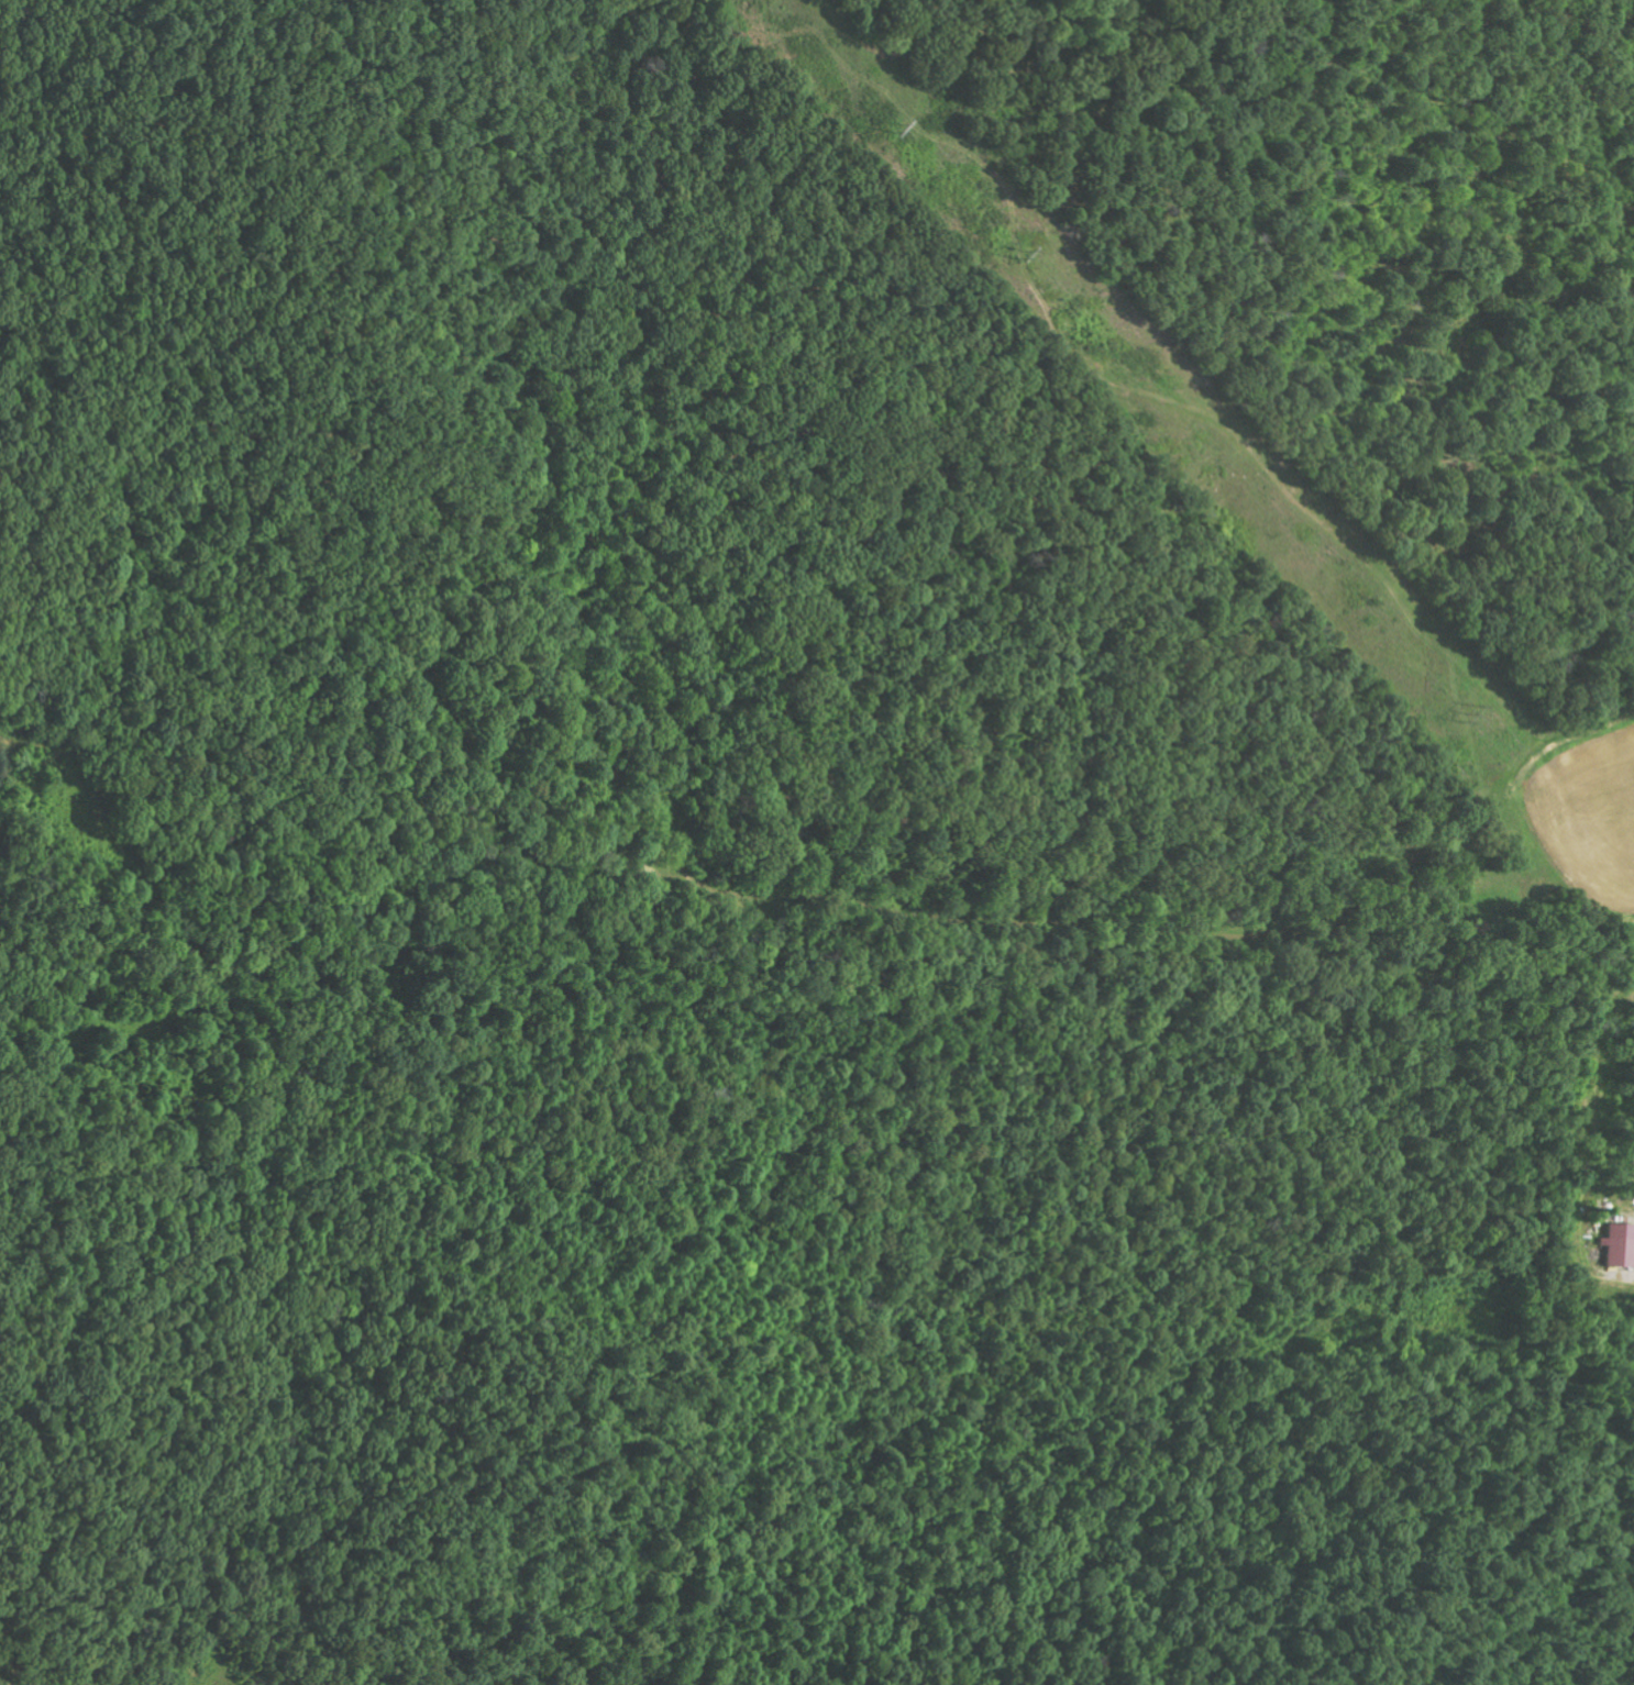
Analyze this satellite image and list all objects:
building: (1616, 1246)

